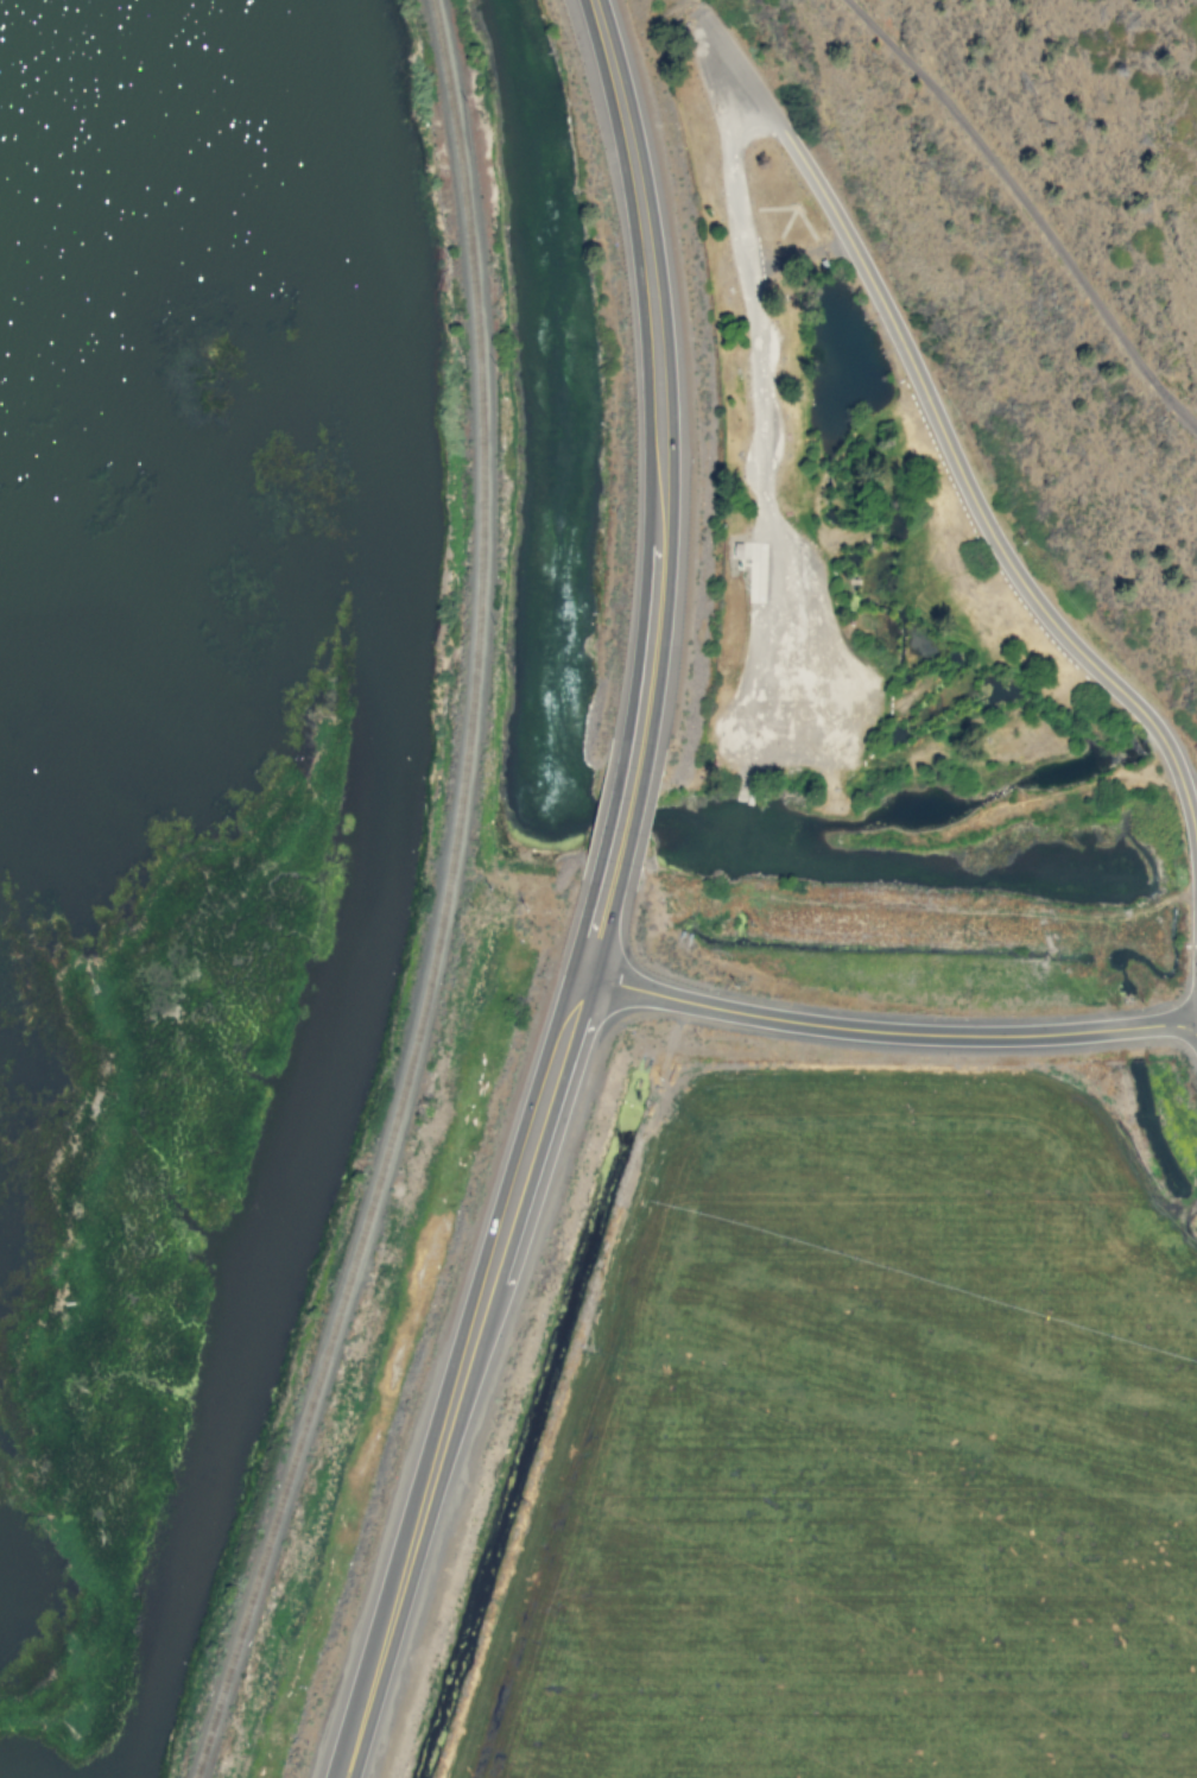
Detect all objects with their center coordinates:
road: (702, 8)
road: (1032, 209)
road: (654, 379)
road: (949, 445)
road: (619, 815)
railway: (441, 903)
road: (885, 1027)
road: (475, 1323)
crop: (864, 1425)

